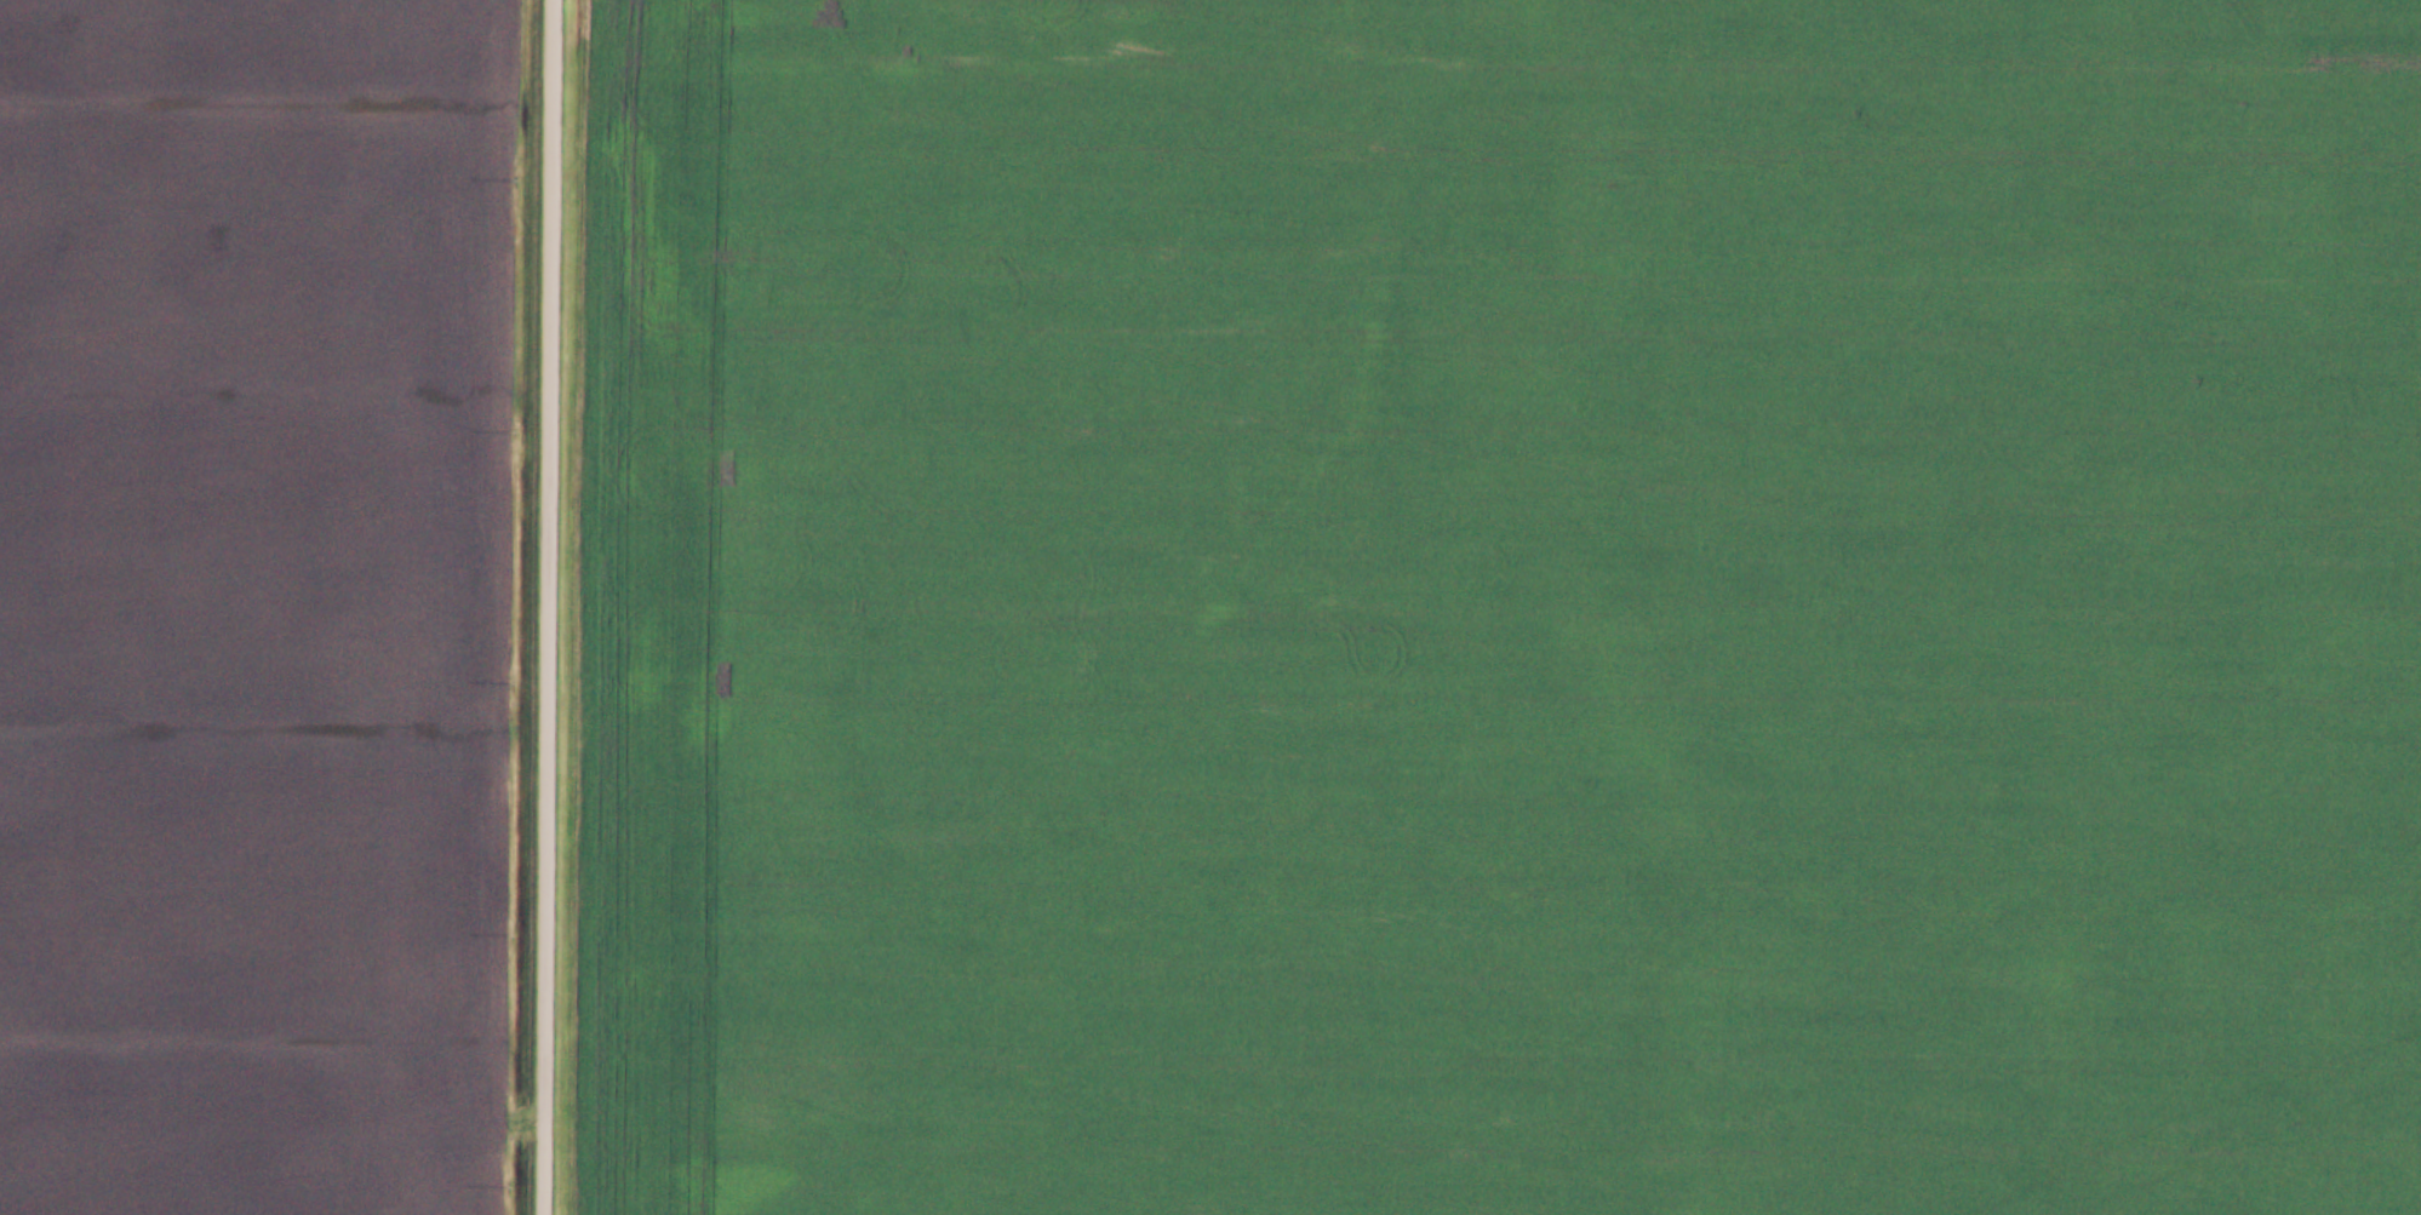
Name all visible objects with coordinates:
road: (553, 607)

